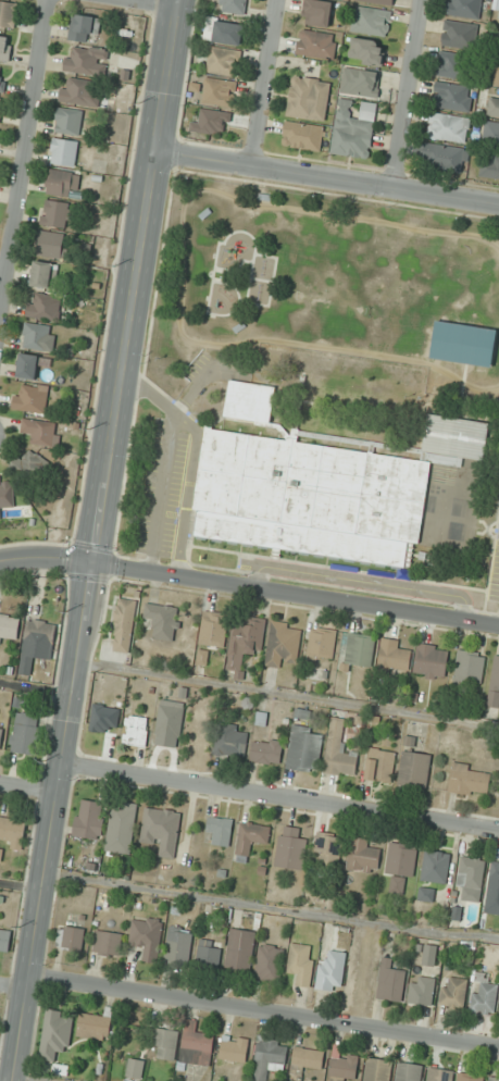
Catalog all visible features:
building: (379, 1)
road: (159, 3)
building: (233, 7)
building: (464, 9)
building: (8, 13)
building: (316, 13)
building: (371, 21)
building: (84, 28)
building: (227, 33)
building: (459, 35)
building: (316, 44)
building: (5, 47)
building: (498, 47)
building: (366, 51)
building: (86, 60)
building: (223, 61)
building: (454, 65)
building: (497, 74)
building: (2, 78)
building: (360, 82)
road: (267, 83)
building: (79, 91)
building: (219, 91)
road: (407, 95)
building: (452, 97)
building: (309, 98)
building: (0, 102)
building: (494, 108)
building: (68, 121)
building: (211, 123)
building: (448, 127)
building: (353, 128)
building: (490, 134)
building: (302, 136)
road: (22, 148)
building: (64, 152)
building: (444, 156)
building: (489, 165)
road: (328, 177)
building: (59, 182)
building: (54, 213)
building: (52, 245)
road: (2, 268)
building: (45, 274)
road: (136, 282)
building: (43, 307)
building: (36, 336)
building: (463, 344)
building: (27, 366)
building: (327, 392)
building: (30, 398)
building: (248, 400)
building: (41, 431)
road: (172, 431)
building: (453, 436)
road: (196, 459)
building: (30, 464)
building: (7, 492)
building: (308, 497)
road: (45, 558)
traffic signals: (91, 566)
road: (363, 581)
road: (295, 595)
building: (164, 620)
building: (124, 624)
building: (213, 628)
building: (9, 629)
building: (40, 635)
building: (246, 641)
building: (322, 642)
building: (283, 643)
building: (360, 649)
building: (394, 656)
building: (431, 661)
building: (469, 668)
building: (495, 684)
road: (36, 686)
road: (288, 694)
building: (169, 723)
building: (136, 730)
building: (26, 733)
building: (1, 735)
building: (232, 740)
building: (304, 749)
building: (266, 750)
building: (339, 750)
building: (379, 765)
building: (414, 768)
road: (60, 771)
building: (470, 780)
road: (28, 788)
road: (280, 796)
building: (89, 819)
building: (121, 827)
building: (161, 829)
building: (219, 831)
building: (13, 832)
building: (252, 835)
building: (290, 848)
building: (328, 848)
building: (362, 855)
building: (400, 866)
building: (435, 866)
building: (494, 875)
building: (471, 878)
road: (21, 886)
building: (426, 894)
road: (271, 907)
building: (147, 936)
building: (71, 937)
building: (4, 940)
building: (107, 942)
building: (178, 945)
building: (240, 949)
building: (209, 953)
building: (427, 953)
building: (270, 962)
building: (302, 962)
building: (330, 970)
building: (390, 981)
road: (13, 987)
building: (422, 990)
building: (453, 992)
building: (484, 992)
road: (264, 1012)
building: (95, 1026)
road: (21, 1029)
building: (55, 1033)
building: (165, 1044)
building: (196, 1045)
building: (234, 1048)
building: (269, 1056)
building: (305, 1060)
building: (135, 1068)
building: (344, 1068)
building: (377, 1069)
building: (408, 1071)
building: (439, 1074)
building: (470, 1077)
road: (32, 1078)
building: (494, 1078)

